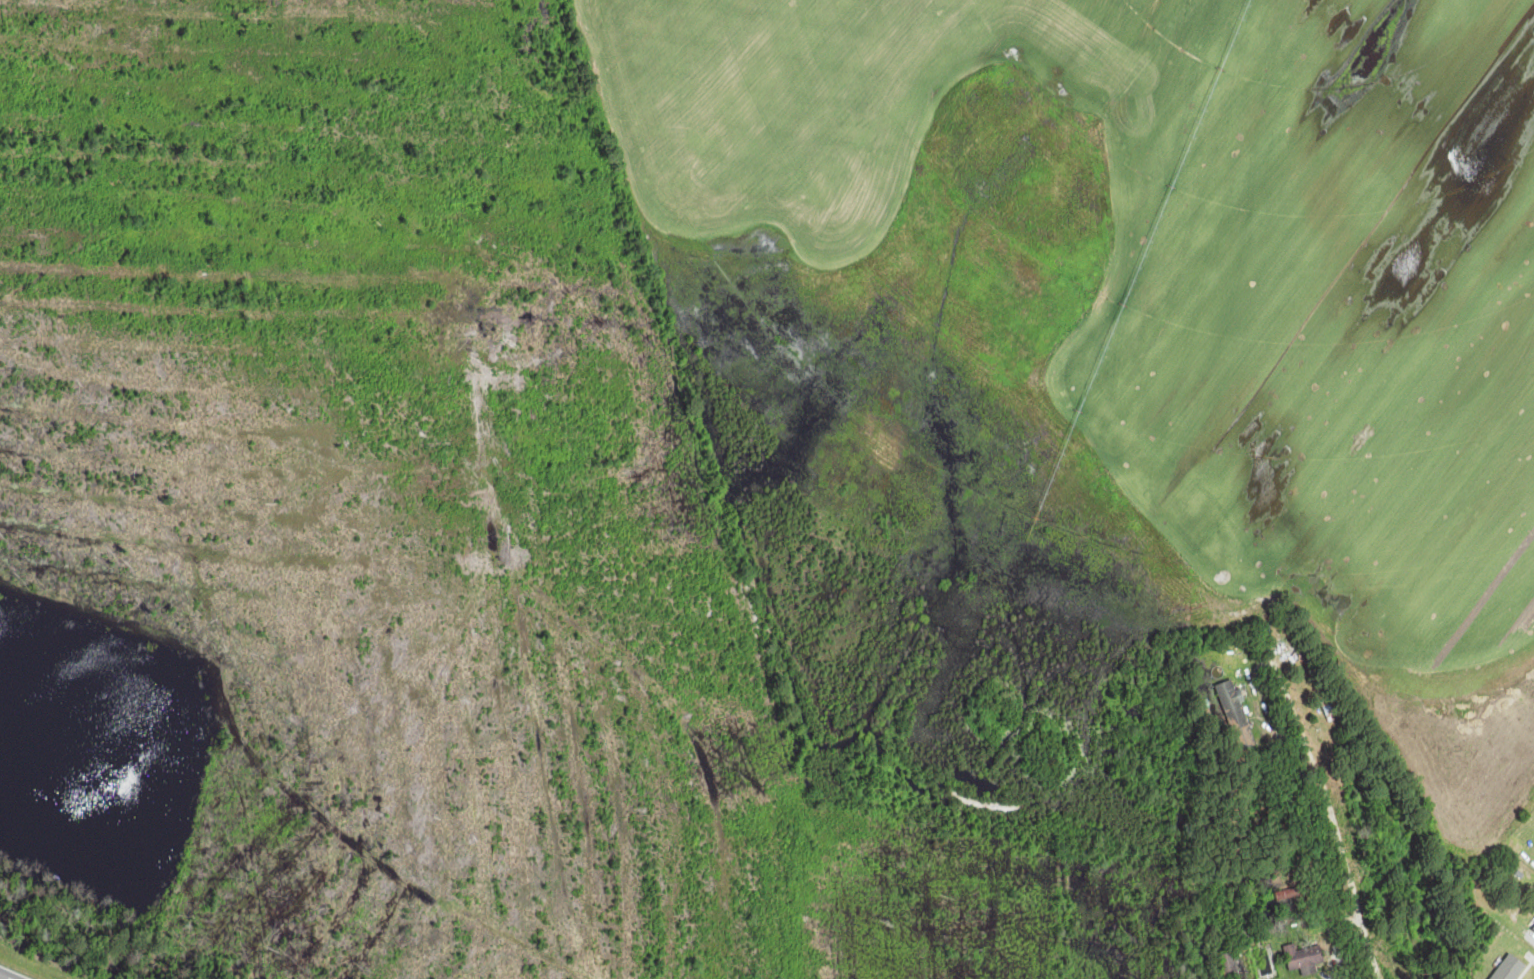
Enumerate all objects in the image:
building: (1332, 709)
building: (1237, 715)
road: (1347, 864)
building: (1533, 928)
building: (1304, 957)
building: (1229, 966)
building: (1520, 970)
road: (3, 977)

